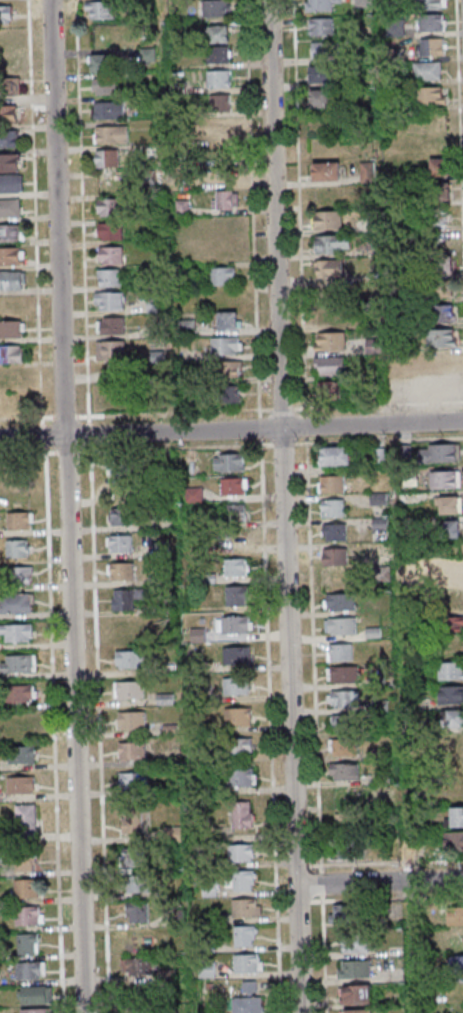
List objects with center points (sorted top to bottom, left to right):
building: (363, 3)
building: (432, 4)
building: (319, 5)
building: (216, 8)
building: (100, 9)
building: (7, 14)
building: (432, 22)
building: (321, 26)
building: (395, 28)
building: (218, 33)
building: (433, 46)
building: (324, 50)
building: (217, 54)
building: (7, 63)
building: (103, 63)
building: (428, 70)
building: (321, 74)
building: (218, 78)
building: (9, 86)
building: (104, 86)
building: (432, 95)
building: (319, 98)
building: (219, 102)
building: (108, 110)
building: (8, 114)
building: (316, 124)
building: (220, 127)
building: (110, 134)
building: (8, 138)
building: (106, 158)
building: (9, 162)
building: (440, 167)
building: (326, 171)
building: (10, 183)
building: (439, 192)
building: (225, 199)
building: (108, 206)
building: (9, 207)
road: (85, 208)
building: (438, 216)
building: (327, 220)
road: (39, 228)
building: (109, 231)
building: (11, 233)
building: (333, 244)
building: (110, 255)
building: (11, 256)
building: (441, 263)
building: (329, 268)
building: (222, 276)
building: (108, 277)
building: (12, 280)
building: (443, 289)
building: (109, 301)
building: (442, 314)
building: (331, 317)
building: (226, 320)
building: (110, 325)
building: (11, 329)
building: (442, 339)
building: (329, 341)
building: (226, 345)
building: (110, 350)
building: (11, 354)
building: (444, 363)
building: (329, 365)
building: (230, 369)
building: (444, 387)
building: (332, 390)
building: (226, 394)
road: (231, 430)
building: (438, 452)
building: (339, 459)
building: (229, 462)
building: (119, 468)
building: (444, 479)
building: (336, 485)
building: (234, 486)
building: (193, 494)
building: (449, 504)
road: (71, 506)
road: (288, 506)
building: (337, 509)
building: (234, 512)
building: (117, 516)
building: (19, 520)
building: (446, 530)
building: (339, 534)
building: (118, 543)
building: (17, 548)
building: (339, 558)
building: (237, 567)
building: (121, 571)
building: (19, 576)
building: (452, 576)
building: (237, 595)
building: (126, 599)
building: (452, 601)
building: (345, 603)
building: (15, 604)
building: (233, 624)
building: (453, 625)
building: (346, 627)
building: (17, 632)
building: (197, 635)
building: (452, 647)
building: (345, 654)
building: (236, 655)
building: (129, 659)
building: (18, 663)
building: (450, 670)
building: (346, 677)
building: (237, 686)
building: (129, 689)
building: (22, 693)
building: (451, 694)
building: (348, 700)
building: (237, 716)
building: (452, 718)
building: (131, 720)
building: (349, 723)
building: (21, 724)
building: (458, 743)
building: (242, 746)
building: (349, 748)
building: (132, 750)
building: (22, 754)
building: (350, 772)
building: (240, 777)
building: (133, 779)
building: (21, 785)
building: (353, 798)
building: (242, 815)
building: (455, 817)
building: (26, 818)
building: (132, 820)
building: (352, 824)
building: (453, 840)
building: (345, 847)
building: (355, 850)
building: (241, 852)
building: (133, 856)
building: (24, 861)
building: (243, 880)
building: (138, 883)
road: (382, 883)
building: (26, 888)
building: (246, 907)
building: (137, 912)
building: (343, 914)
building: (29, 915)
building: (455, 915)
building: (244, 936)
building: (136, 939)
building: (27, 943)
building: (355, 943)
building: (456, 943)
building: (247, 963)
building: (455, 964)
building: (137, 966)
building: (354, 968)
building: (30, 970)
building: (36, 994)
building: (358, 994)
building: (247, 1004)
building: (142, 1009)
building: (36, 1010)
building: (459, 1010)
building: (357, 1011)

